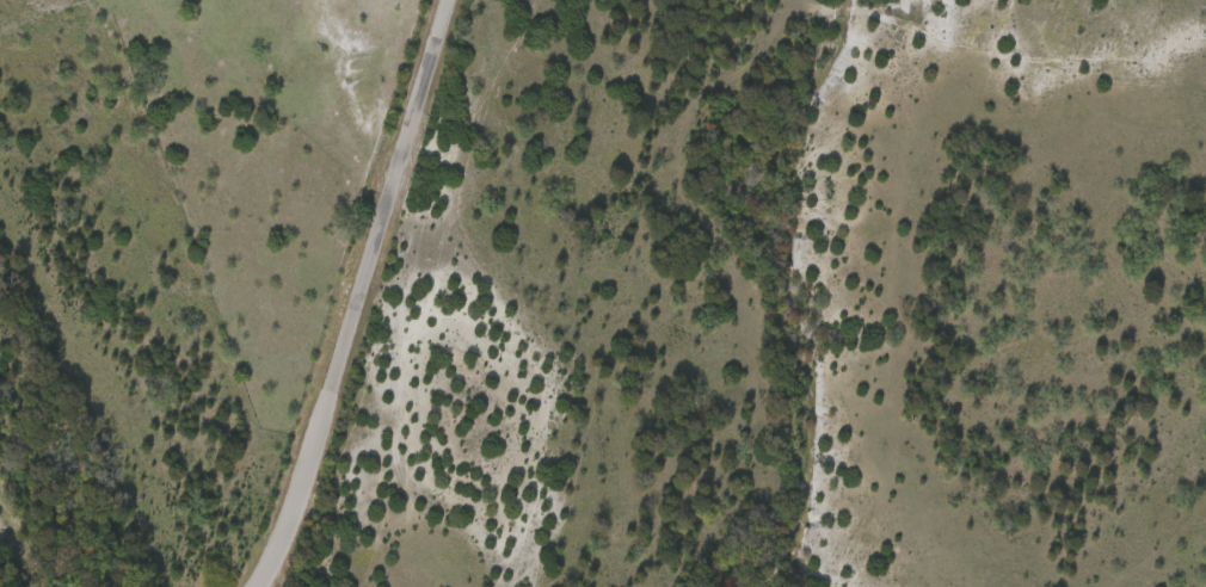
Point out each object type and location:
road: (352, 296)

